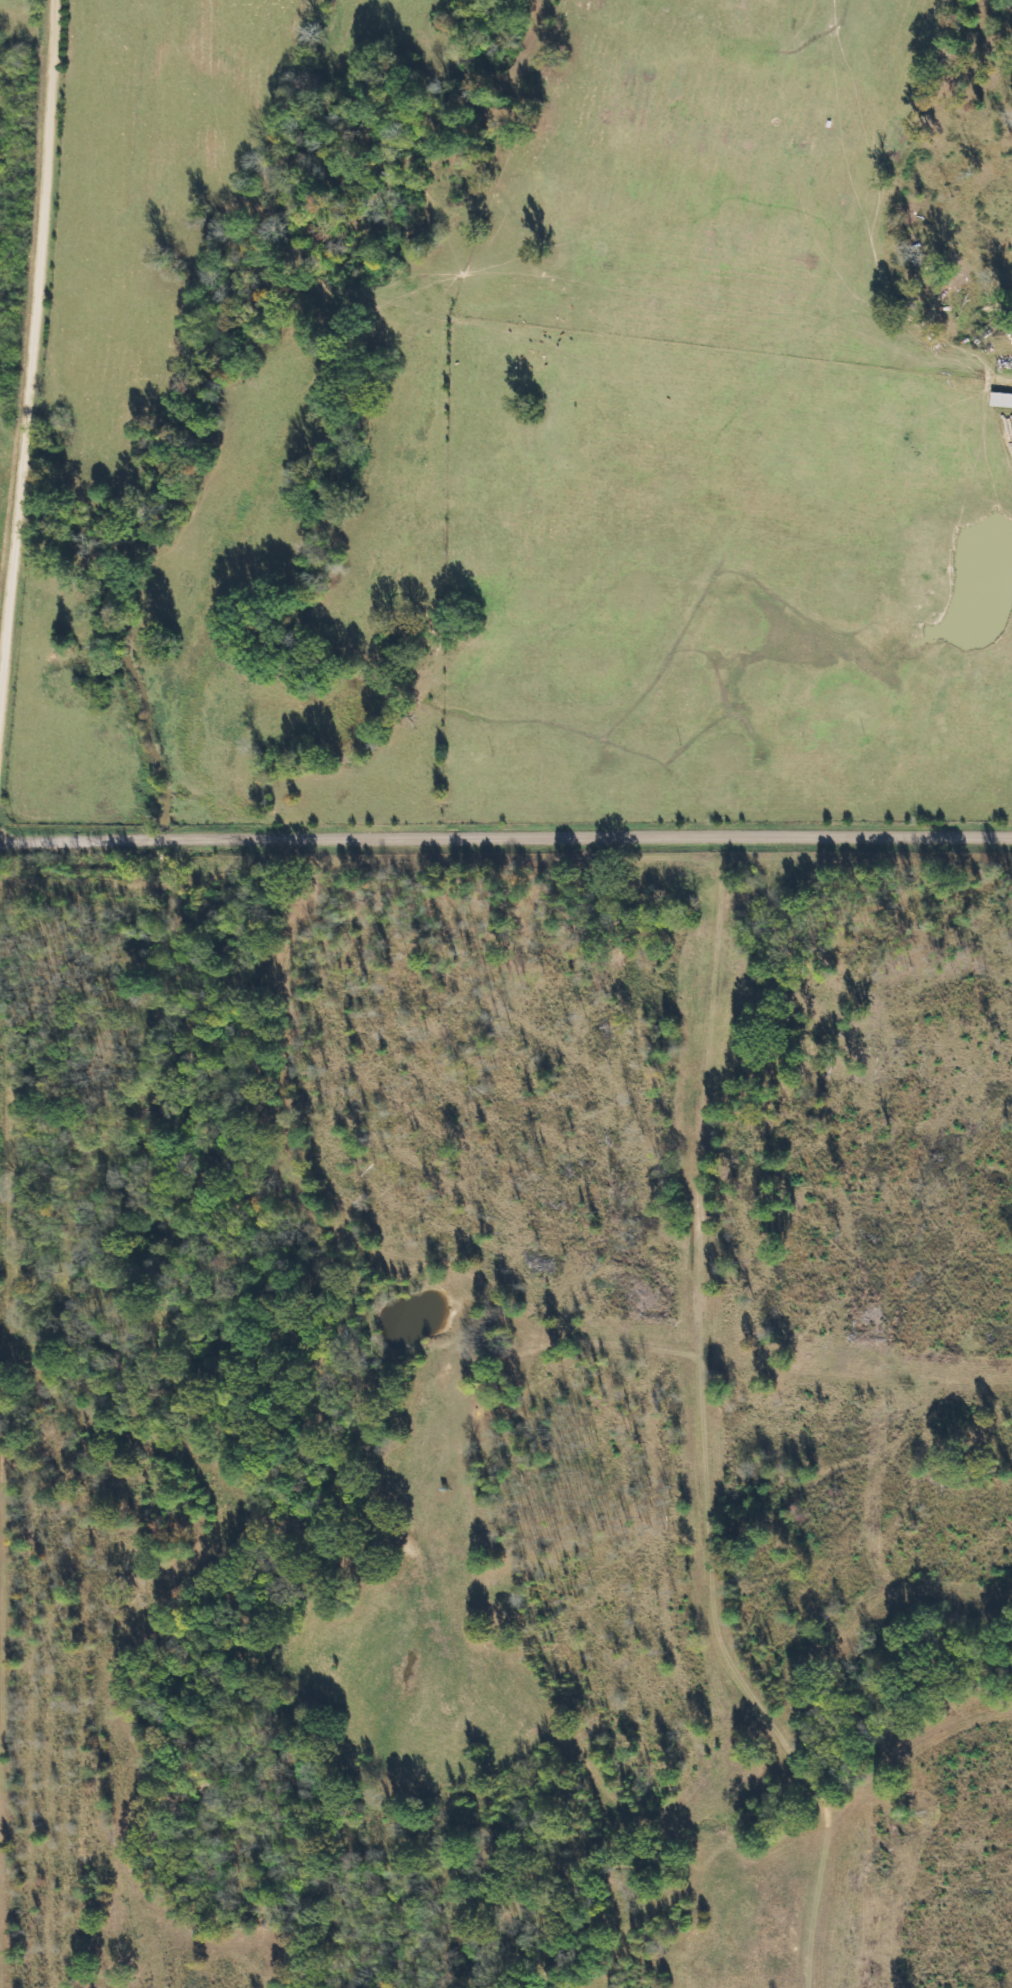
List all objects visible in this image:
road: (36, 382)
building: (1003, 400)
road: (506, 834)

